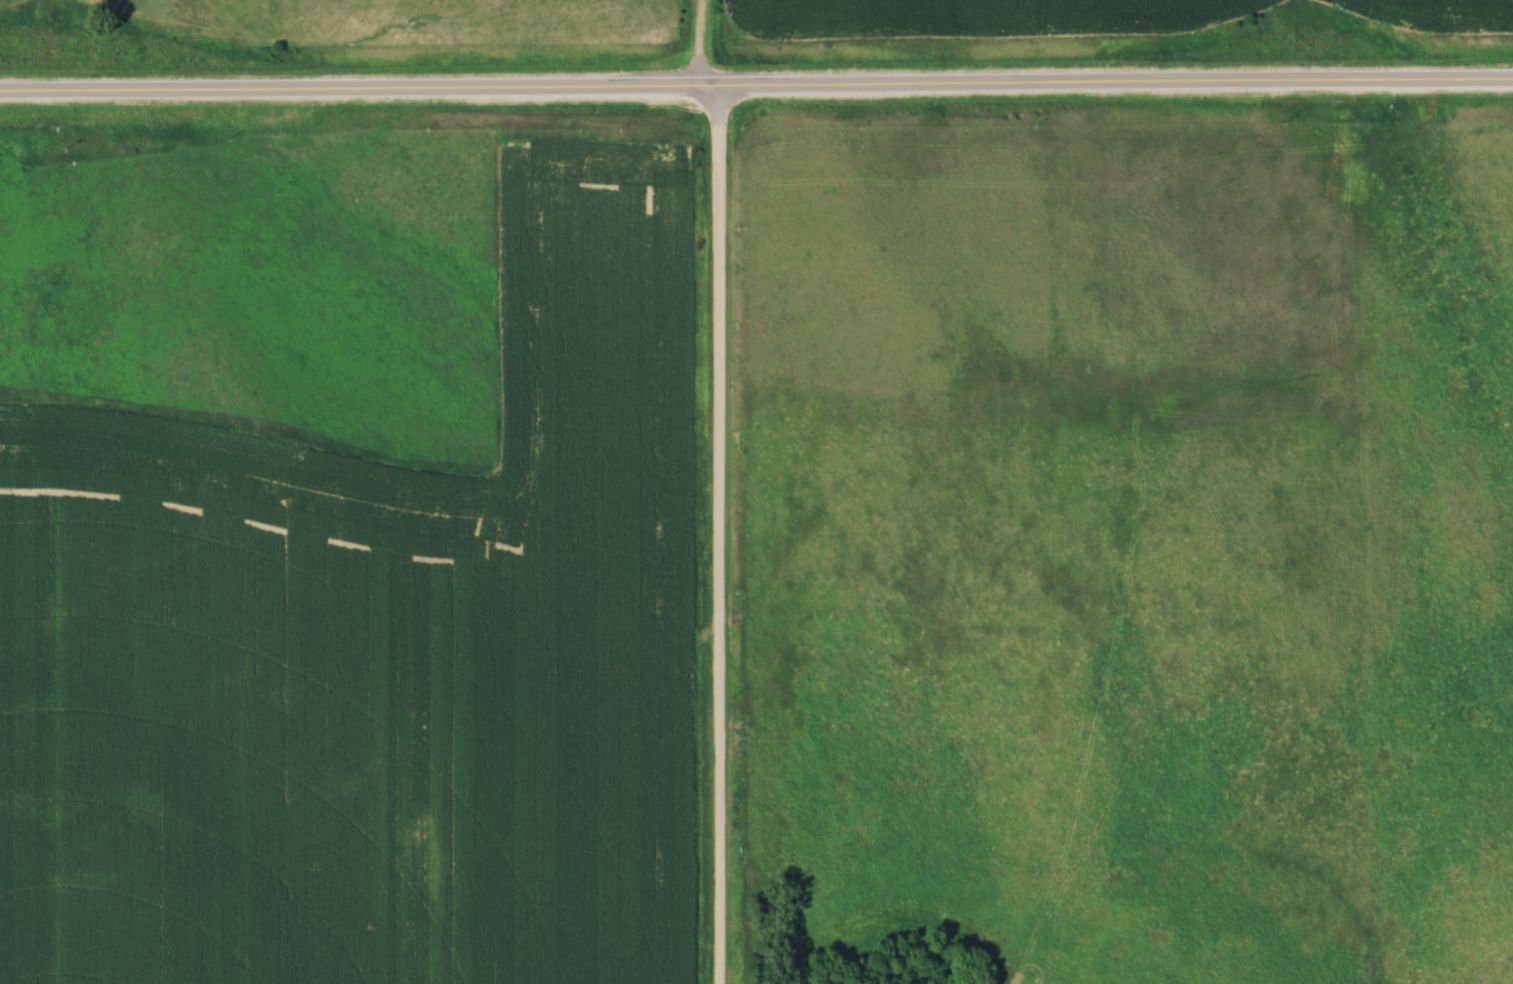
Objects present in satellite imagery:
crop: (1441, 14)
crop: (980, 20)
road: (699, 45)
road: (756, 90)
road: (718, 537)

